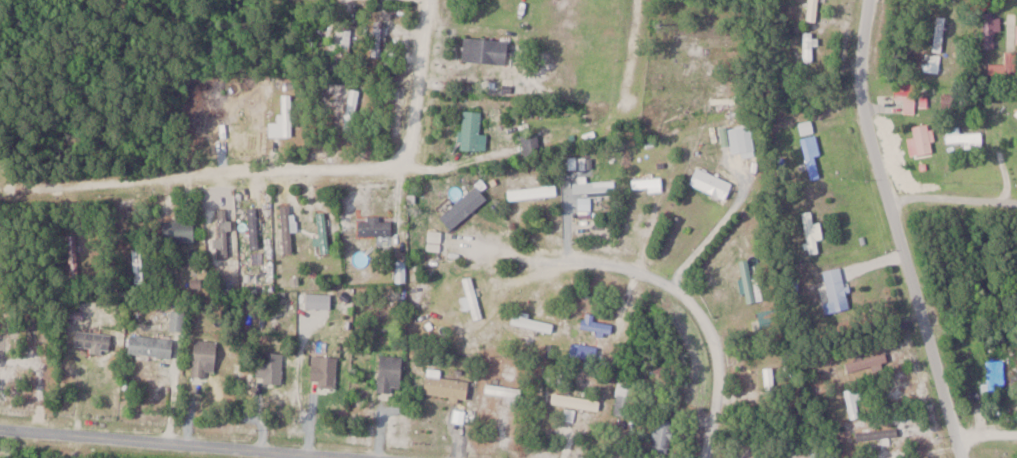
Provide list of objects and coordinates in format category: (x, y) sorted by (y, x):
building: (813, 9)
building: (990, 28)
building: (940, 32)
building: (587, 36)
building: (377, 38)
building: (810, 45)
building: (487, 50)
building: (694, 59)
building: (932, 62)
building: (1012, 62)
road: (633, 72)
building: (908, 99)
building: (950, 101)
building: (353, 108)
building: (286, 113)
building: (472, 129)
building: (963, 136)
building: (924, 138)
building: (743, 140)
building: (532, 144)
building: (814, 156)
road: (292, 173)
building: (712, 182)
building: (647, 183)
building: (594, 186)
building: (533, 192)
road: (954, 205)
building: (450, 210)
building: (376, 226)
building: (254, 227)
building: (287, 228)
building: (180, 229)
road: (898, 230)
building: (223, 232)
building: (323, 232)
building: (811, 232)
building: (435, 240)
building: (73, 253)
building: (139, 264)
building: (751, 279)
building: (837, 288)
building: (473, 297)
road: (679, 304)
building: (769, 317)
building: (534, 323)
building: (597, 325)
building: (94, 340)
building: (152, 345)
building: (206, 358)
building: (271, 367)
building: (326, 369)
building: (391, 372)
building: (995, 374)
building: (770, 381)
building: (447, 386)
building: (507, 392)
building: (576, 400)
building: (854, 401)
building: (624, 404)
building: (663, 434)
building: (878, 434)
road: (986, 437)
road: (164, 444)

